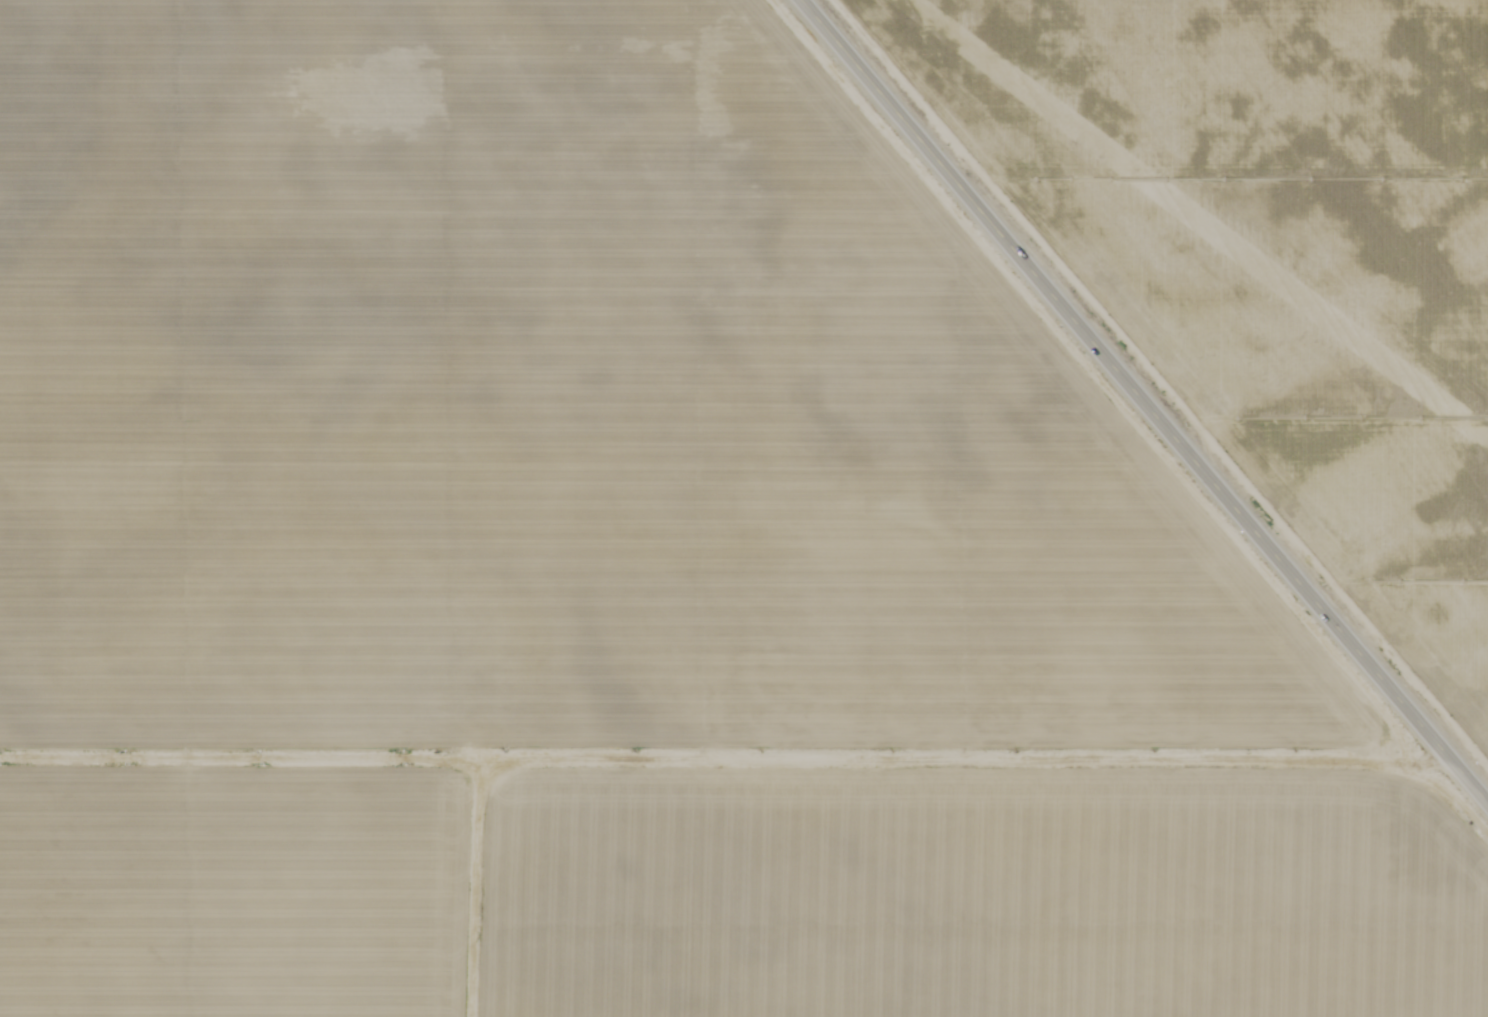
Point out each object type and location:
road: (1145, 400)

